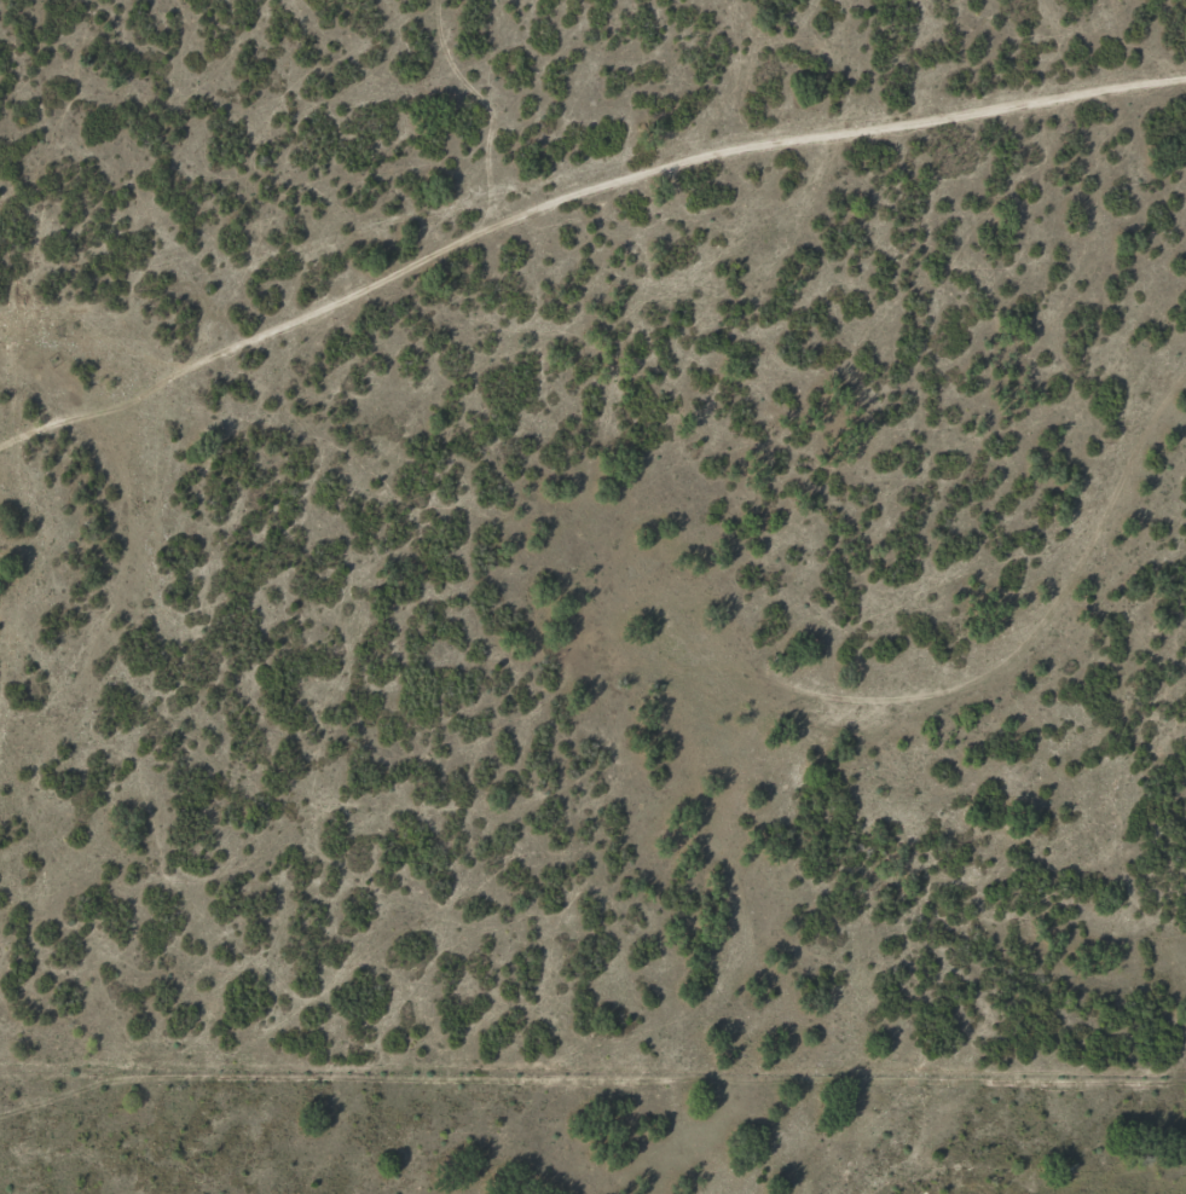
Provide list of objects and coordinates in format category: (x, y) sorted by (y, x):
road: (565, 207)

